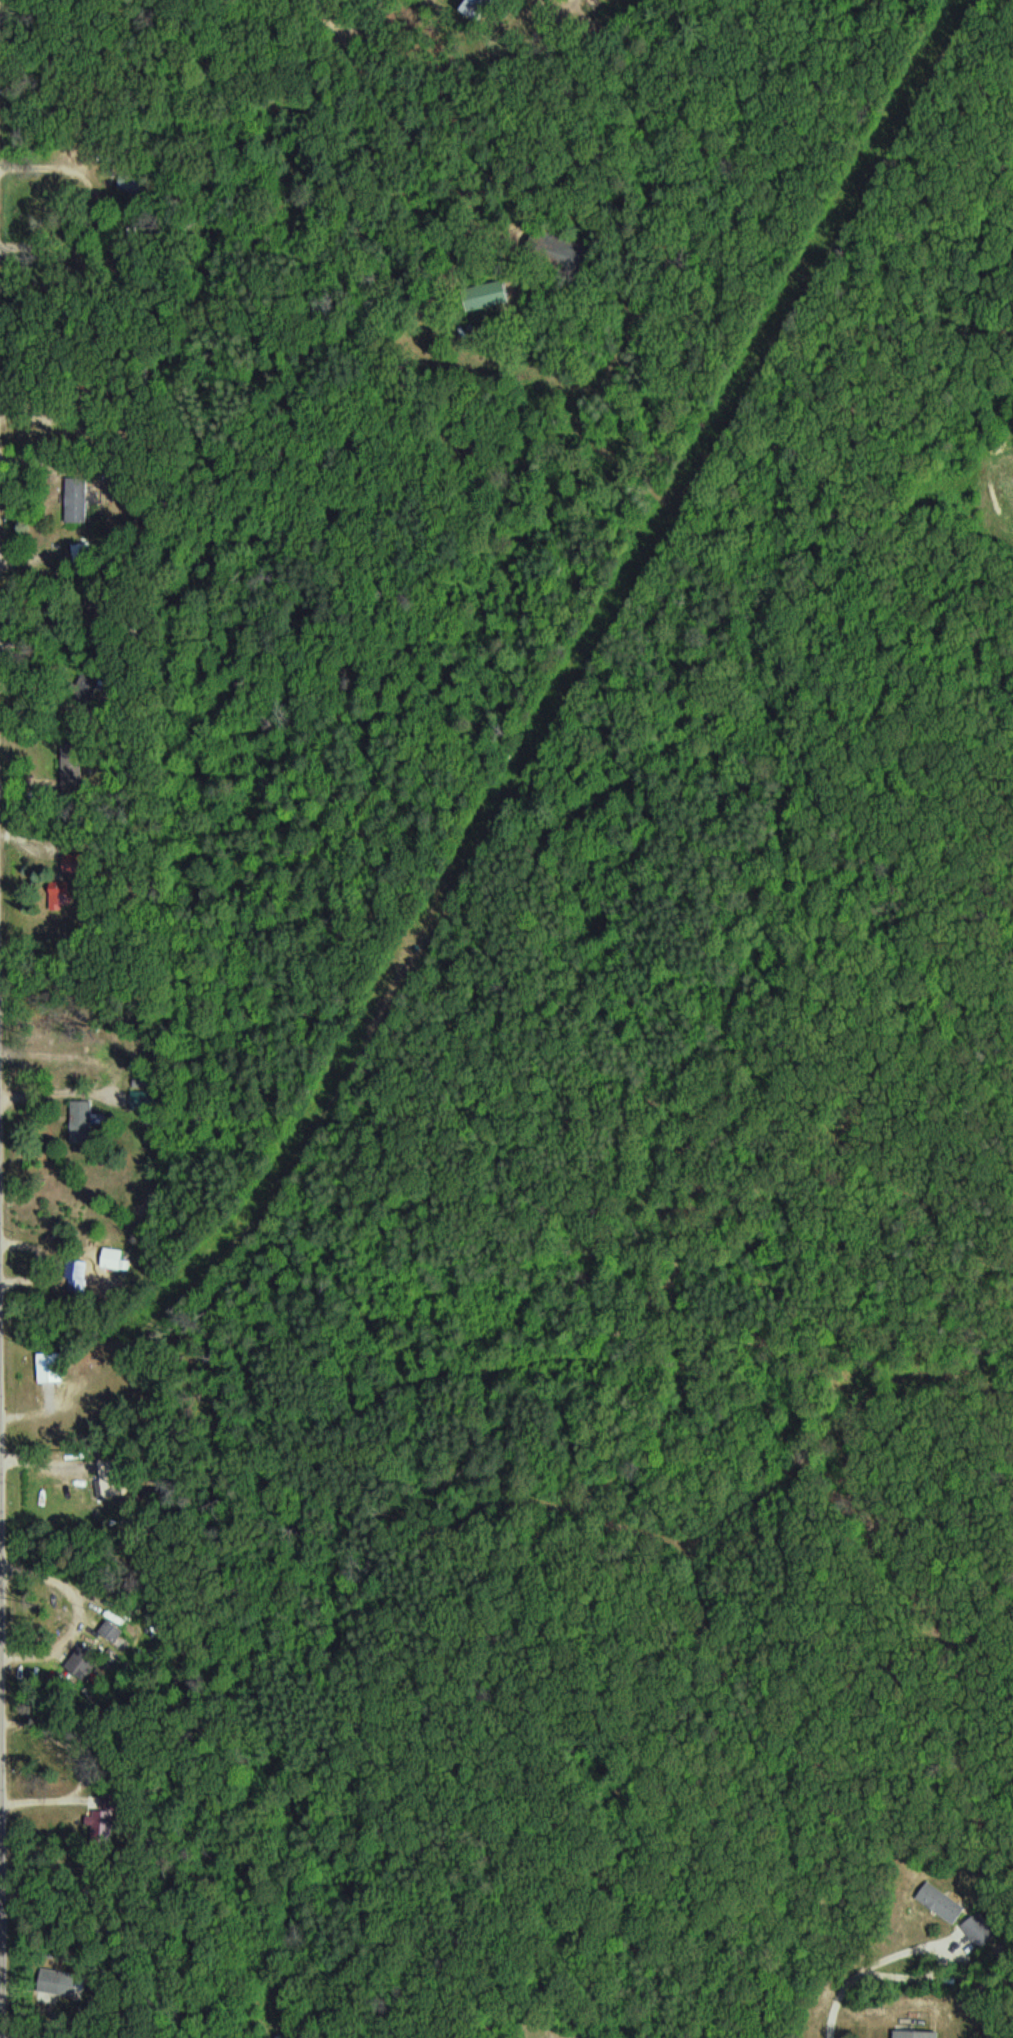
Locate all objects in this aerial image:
building: (480, 8)
road: (183, 183)
building: (492, 294)
road: (231, 340)
building: (76, 515)
building: (84, 554)
building: (83, 1115)
building: (115, 1258)
building: (79, 1276)
road: (102, 1338)
building: (115, 1477)
building: (104, 1817)
road: (0, 1954)
road: (917, 2010)

